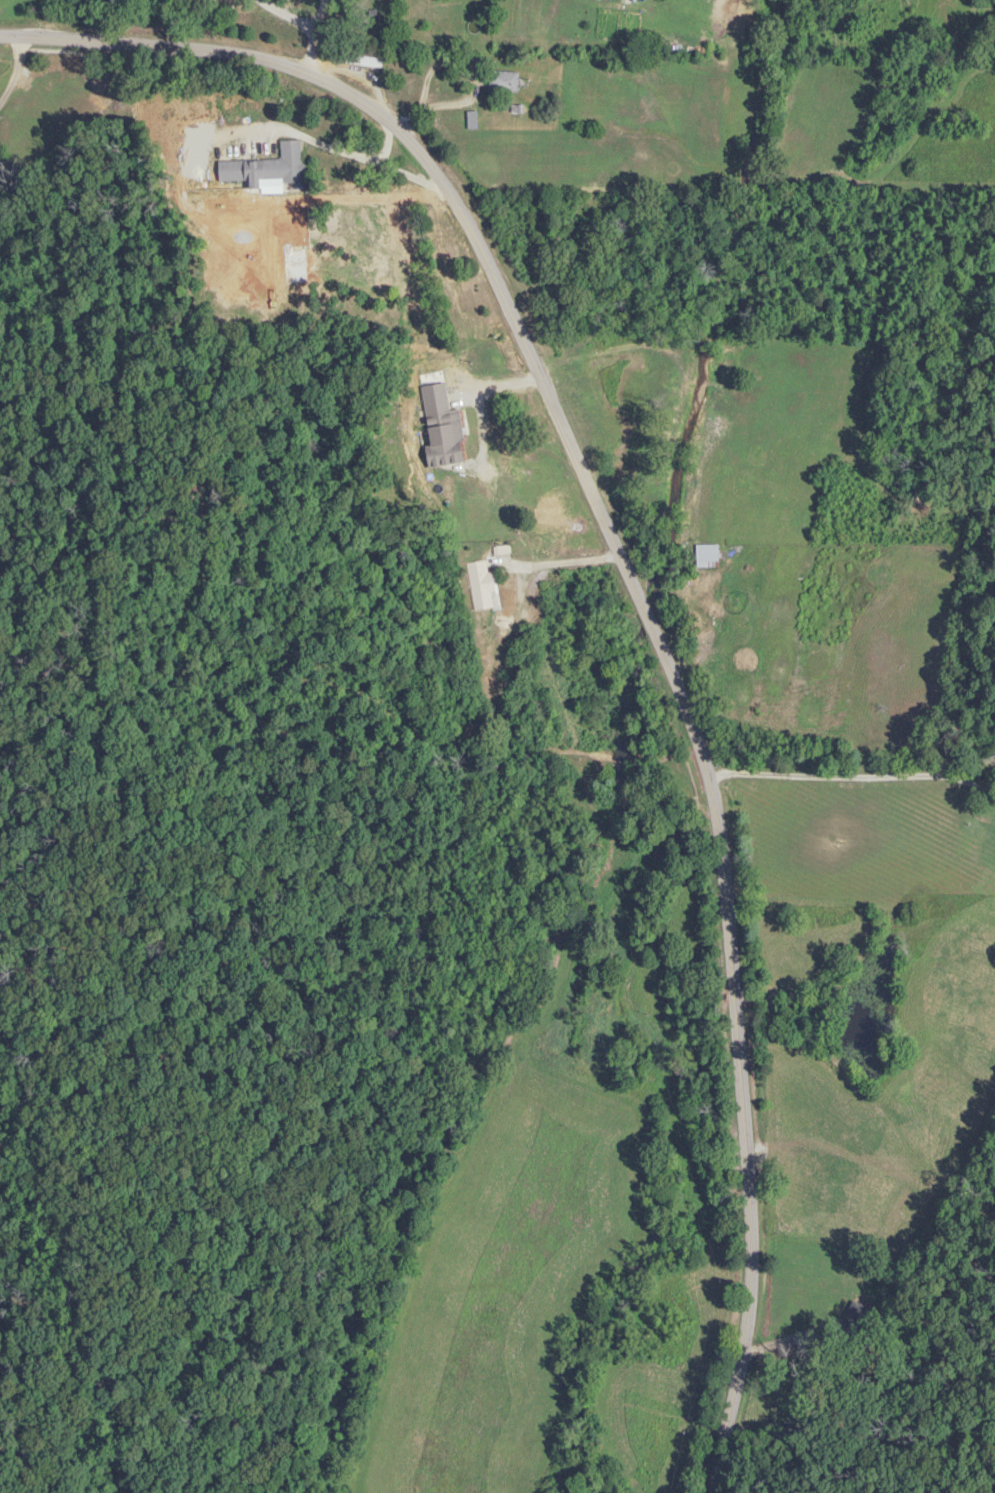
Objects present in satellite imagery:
road: (312, 36)
road: (393, 57)
building: (361, 62)
road: (11, 65)
building: (501, 81)
road: (354, 156)
building: (282, 163)
building: (229, 170)
building: (433, 399)
building: (437, 454)
building: (704, 556)
road: (557, 565)
road: (633, 583)
building: (480, 586)
road: (716, 638)
road: (487, 700)
building: (853, 1320)

